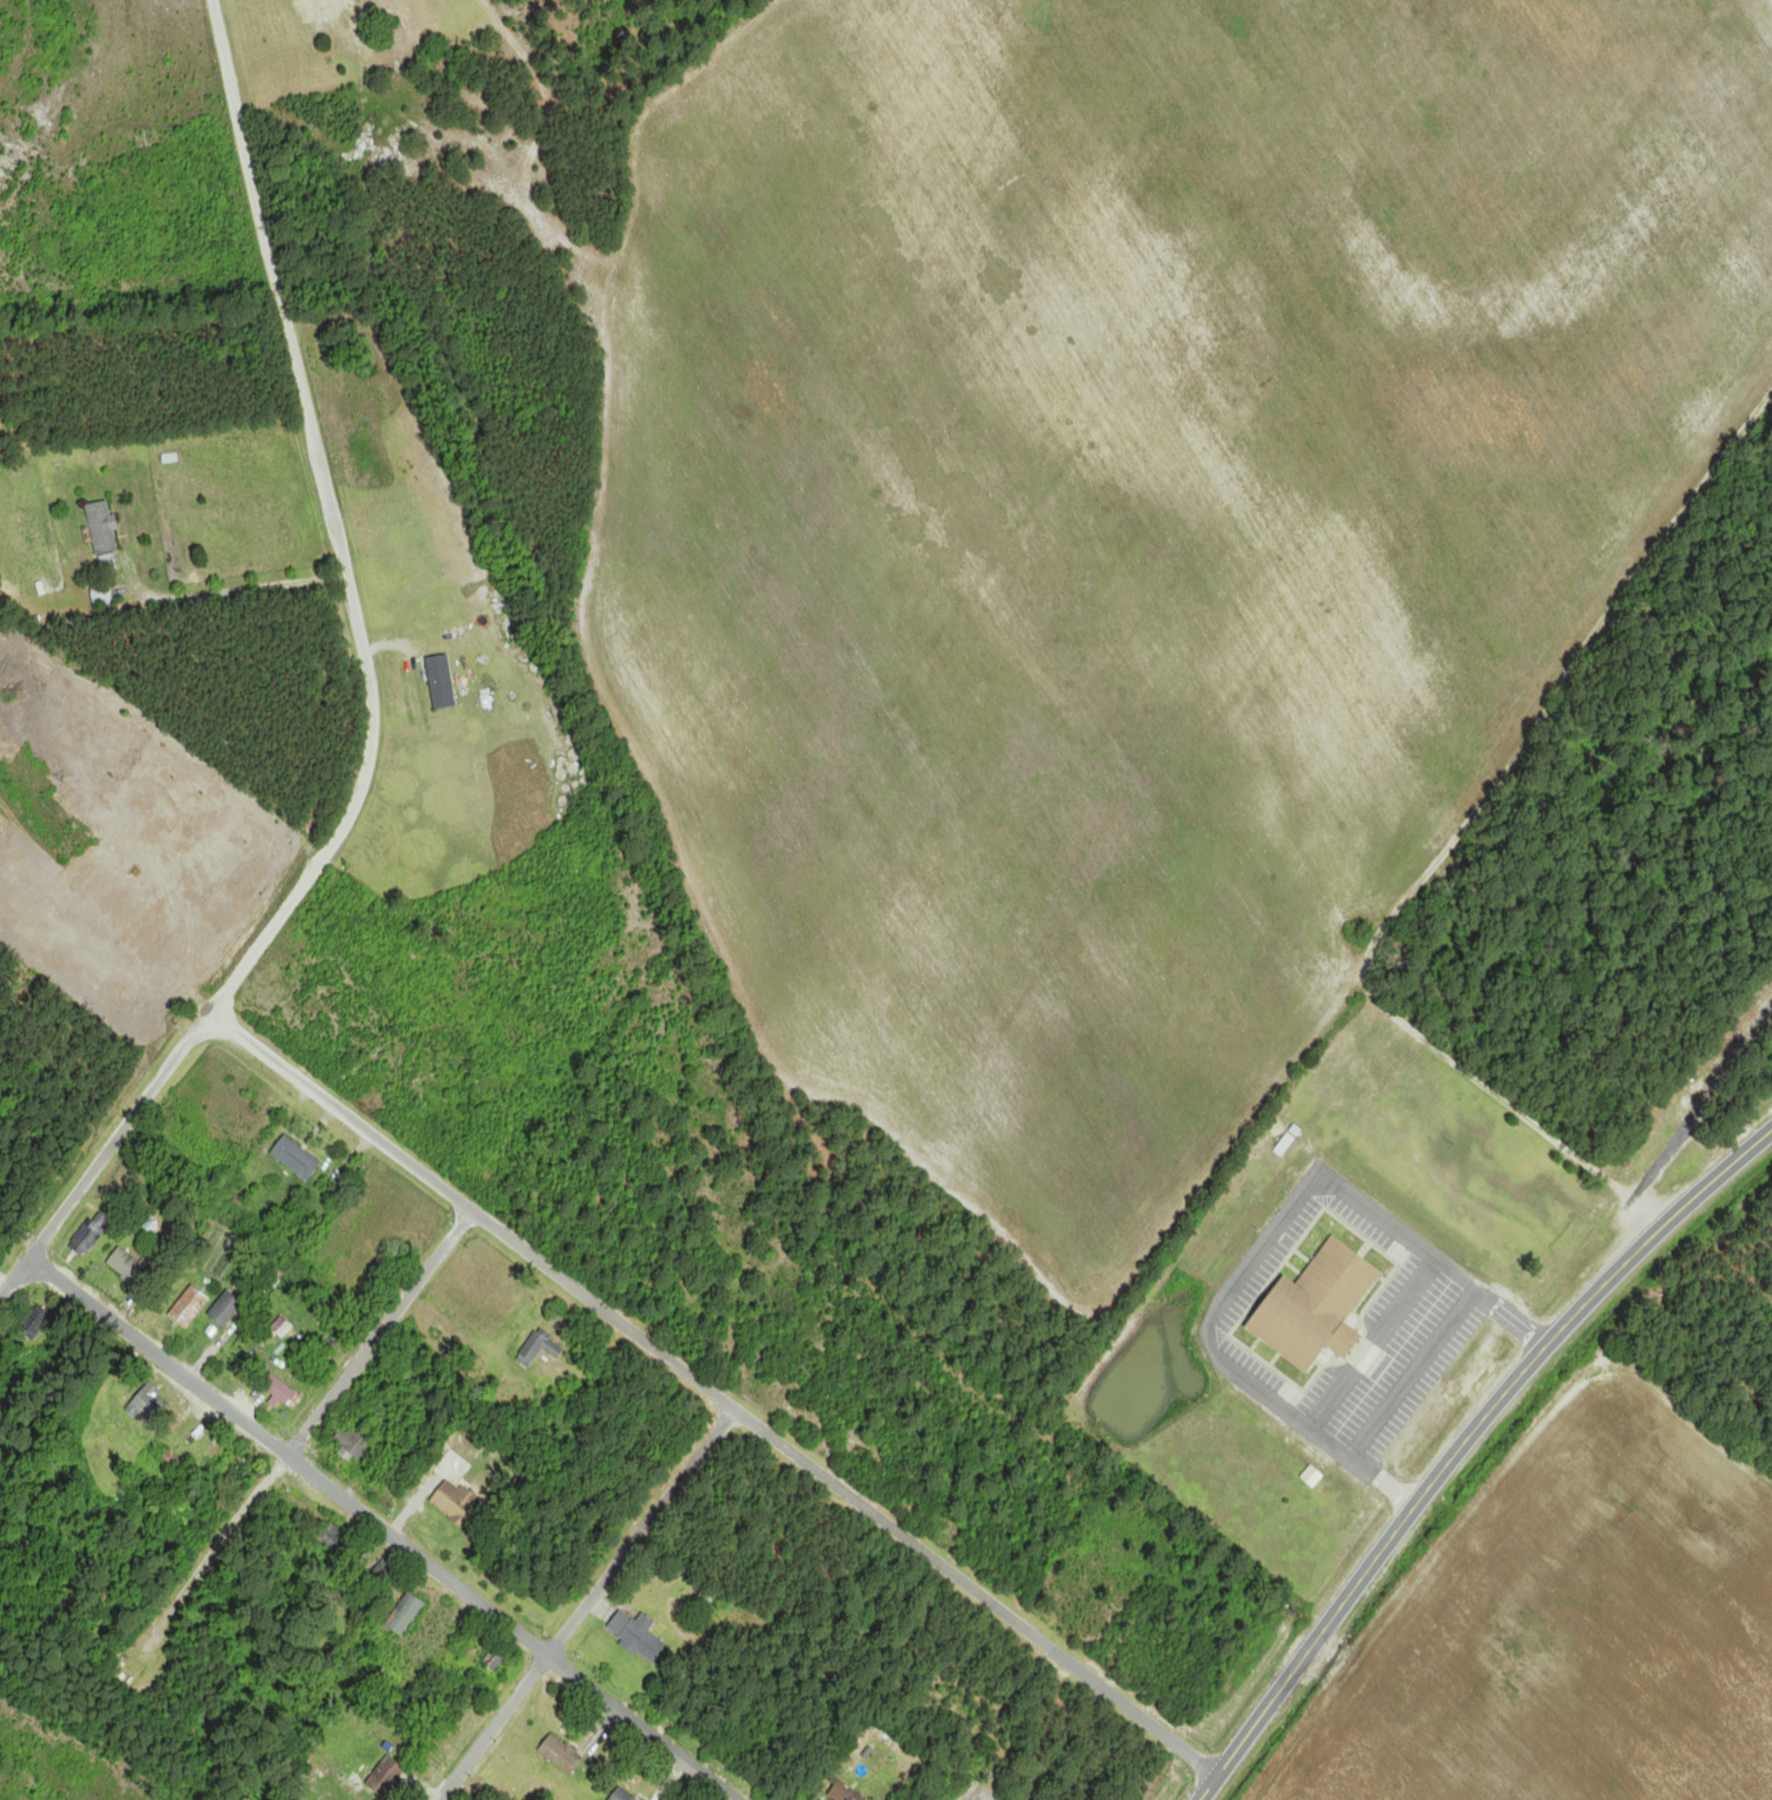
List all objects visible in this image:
park: (1770, 2)
building: (319, 8)
building: (101, 526)
building: (101, 596)
building: (441, 682)
road: (363, 699)
road: (1451, 843)
park: (1621, 873)
road: (1704, 1101)
building: (295, 1158)
building: (90, 1233)
building: (126, 1267)
building: (188, 1308)
building: (225, 1309)
building: (32, 1323)
road: (382, 1333)
building: (539, 1348)
road: (1541, 1352)
building: (279, 1392)
road: (714, 1394)
building: (148, 1405)
building: (352, 1442)
building: (167, 1455)
building: (235, 1471)
building: (457, 1505)
road: (383, 1527)
road: (587, 1604)
building: (406, 1615)
building: (636, 1635)
road: (1273, 1700)
building: (561, 1756)
building: (387, 1776)
building: (843, 1793)
building: (622, 1795)

